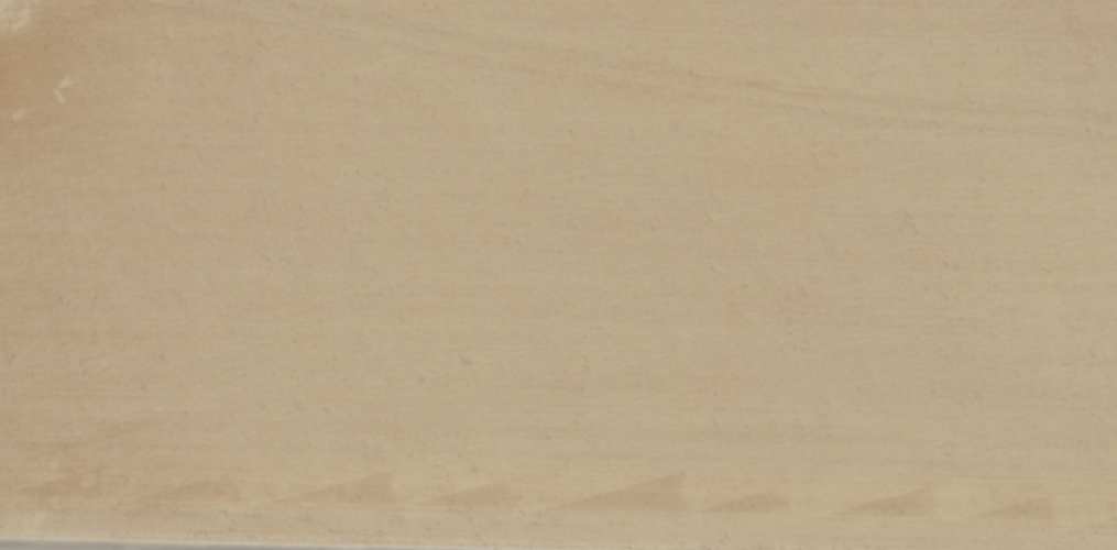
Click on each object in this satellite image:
road: (103, 547)

